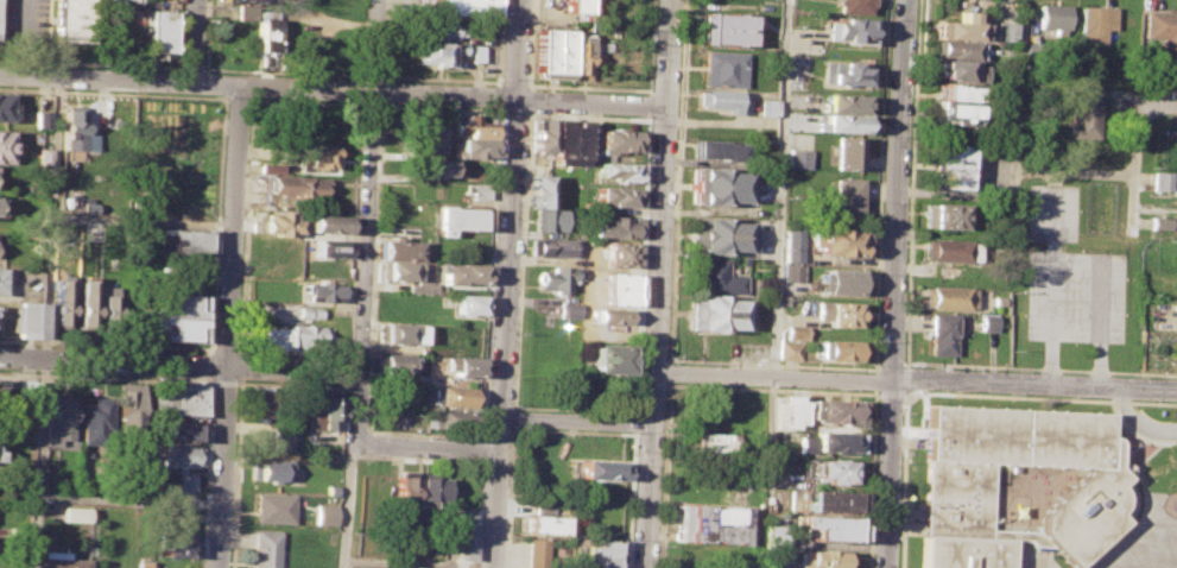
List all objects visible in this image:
building: (132, 0)
building: (239, 0)
parking lot: (411, 2)
building: (575, 5)
building: (853, 6)
building: (464, 7)
building: (245, 11)
building: (1053, 18)
building: (70, 19)
building: (1095, 23)
parking lot: (24, 24)
building: (1165, 25)
building: (439, 27)
building: (723, 27)
building: (958, 27)
building: (483, 29)
building: (156, 30)
building: (264, 30)
building: (852, 30)
building: (1006, 31)
road: (175, 32)
road: (191, 40)
road: (498, 42)
road: (529, 44)
road: (650, 46)
building: (958, 49)
building: (551, 50)
building: (474, 52)
building: (435, 53)
building: (581, 56)
road: (88, 62)
road: (188, 65)
road: (202, 67)
building: (724, 68)
road: (248, 69)
building: (964, 70)
building: (847, 72)
road: (369, 75)
road: (437, 77)
road: (511, 82)
road: (586, 87)
road: (331, 90)
road: (110, 91)
building: (960, 91)
road: (496, 95)
road: (234, 97)
building: (719, 97)
road: (526, 99)
road: (303, 101)
building: (847, 101)
road: (368, 105)
road: (647, 105)
building: (767, 106)
road: (1159, 106)
building: (4, 107)
road: (436, 107)
building: (1086, 111)
building: (958, 112)
road: (587, 116)
road: (1018, 116)
building: (843, 124)
building: (1000, 124)
building: (71, 125)
building: (417, 126)
building: (470, 126)
building: (538, 134)
building: (618, 140)
road: (1135, 140)
building: (568, 141)
building: (1, 144)
building: (419, 145)
building: (470, 147)
building: (719, 149)
building: (850, 152)
building: (315, 154)
building: (798, 157)
building: (432, 165)
building: (948, 165)
building: (268, 166)
building: (619, 170)
road: (1075, 171)
building: (1164, 179)
road: (675, 181)
road: (912, 182)
road: (366, 184)
building: (716, 184)
road: (880, 185)
building: (297, 188)
building: (475, 190)
building: (537, 190)
building: (618, 195)
building: (848, 196)
road: (1133, 204)
parking lot: (1055, 212)
building: (948, 215)
road: (49, 216)
building: (456, 217)
building: (549, 217)
road: (143, 221)
building: (325, 222)
building: (1163, 222)
building: (272, 223)
building: (613, 225)
road: (352, 231)
building: (59, 235)
building: (717, 235)
building: (185, 240)
building: (840, 241)
building: (792, 244)
building: (328, 246)
road: (372, 246)
building: (552, 246)
building: (396, 248)
building: (948, 250)
road: (777, 252)
building: (620, 253)
road: (519, 260)
road: (640, 264)
building: (394, 269)
building: (461, 272)
building: (792, 272)
road: (489, 273)
building: (557, 276)
building: (716, 277)
building: (0, 278)
road: (1052, 278)
building: (840, 280)
building: (417, 283)
road: (505, 283)
road: (657, 283)
road: (894, 283)
building: (614, 286)
building: (321, 289)
parking lot: (1076, 295)
building: (949, 296)
building: (84, 299)
building: (999, 299)
road: (1100, 299)
building: (59, 302)
building: (467, 302)
building: (107, 305)
building: (567, 309)
building: (306, 311)
building: (714, 313)
building: (840, 313)
building: (614, 315)
building: (177, 317)
building: (25, 318)
building: (987, 322)
road: (229, 327)
building: (796, 330)
building: (396, 332)
building: (941, 332)
building: (308, 335)
building: (266, 336)
road: (107, 343)
road: (224, 348)
building: (839, 348)
building: (789, 349)
road: (290, 351)
building: (607, 356)
road: (179, 360)
building: (392, 362)
road: (772, 362)
road: (891, 365)
building: (461, 366)
road: (1039, 367)
road: (343, 370)
road: (667, 371)
road: (106, 377)
road: (873, 380)
road: (915, 380)
road: (223, 381)
road: (638, 383)
road: (651, 383)
road: (290, 384)
road: (343, 384)
road: (355, 387)
road: (771, 387)
building: (26, 389)
road: (904, 392)
building: (453, 396)
road: (1040, 397)
building: (176, 398)
building: (255, 404)
road: (356, 404)
building: (128, 405)
road: (574, 409)
building: (787, 410)
building: (833, 410)
building: (324, 412)
road: (512, 417)
building: (55, 418)
building: (93, 419)
building: (449, 419)
road: (575, 421)
road: (634, 422)
road: (1138, 422)
parking lot: (1151, 423)
building: (177, 430)
road: (570, 430)
road: (403, 431)
road: (496, 433)
building: (279, 438)
building: (705, 441)
building: (828, 441)
road: (426, 444)
road: (482, 450)
building: (179, 454)
road: (469, 460)
road: (37, 461)
building: (267, 468)
building: (600, 468)
building: (834, 469)
road: (204, 474)
road: (663, 474)
road: (234, 475)
road: (869, 478)
road: (901, 480)
building: (45, 481)
building: (184, 481)
building: (404, 488)
building: (957, 490)
building: (431, 492)
building: (328, 494)
road: (508, 497)
road: (631, 499)
road: (127, 500)
building: (828, 500)
road: (347, 503)
building: (271, 506)
building: (72, 513)
building: (323, 513)
building: (165, 515)
building: (548, 523)
building: (710, 523)
building: (817, 525)
building: (21, 531)
building: (463, 534)
building: (176, 544)
building: (602, 547)
building: (264, 548)
building: (537, 553)
building: (818, 557)
building: (59, 560)
building: (601, 561)
building: (140, 563)
building: (18, 566)
building: (410, 567)

